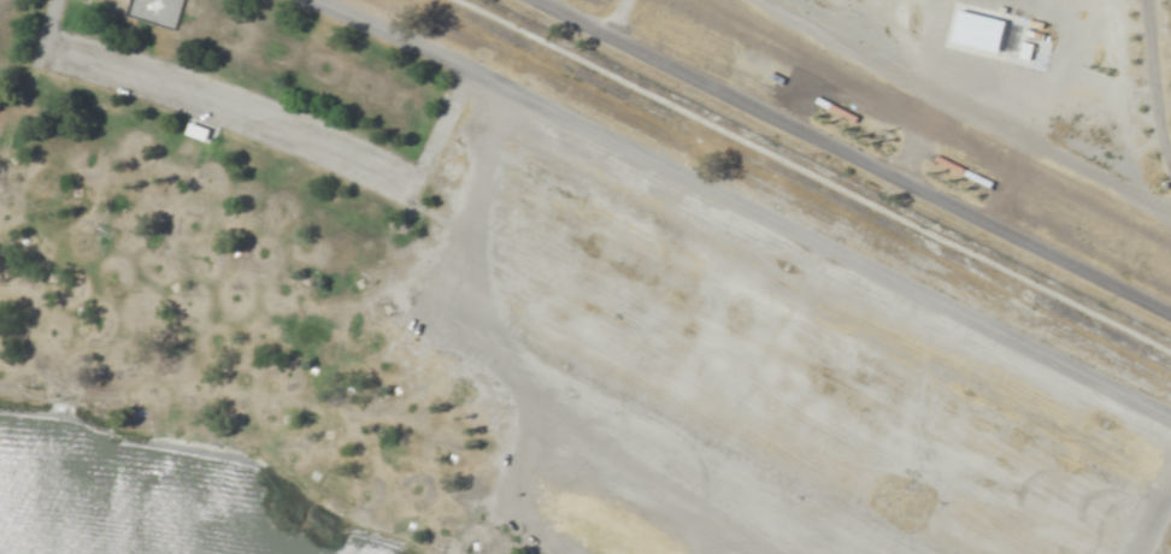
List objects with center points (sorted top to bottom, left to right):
road: (269, 128)
building: (199, 131)
road: (858, 152)
road: (754, 205)

